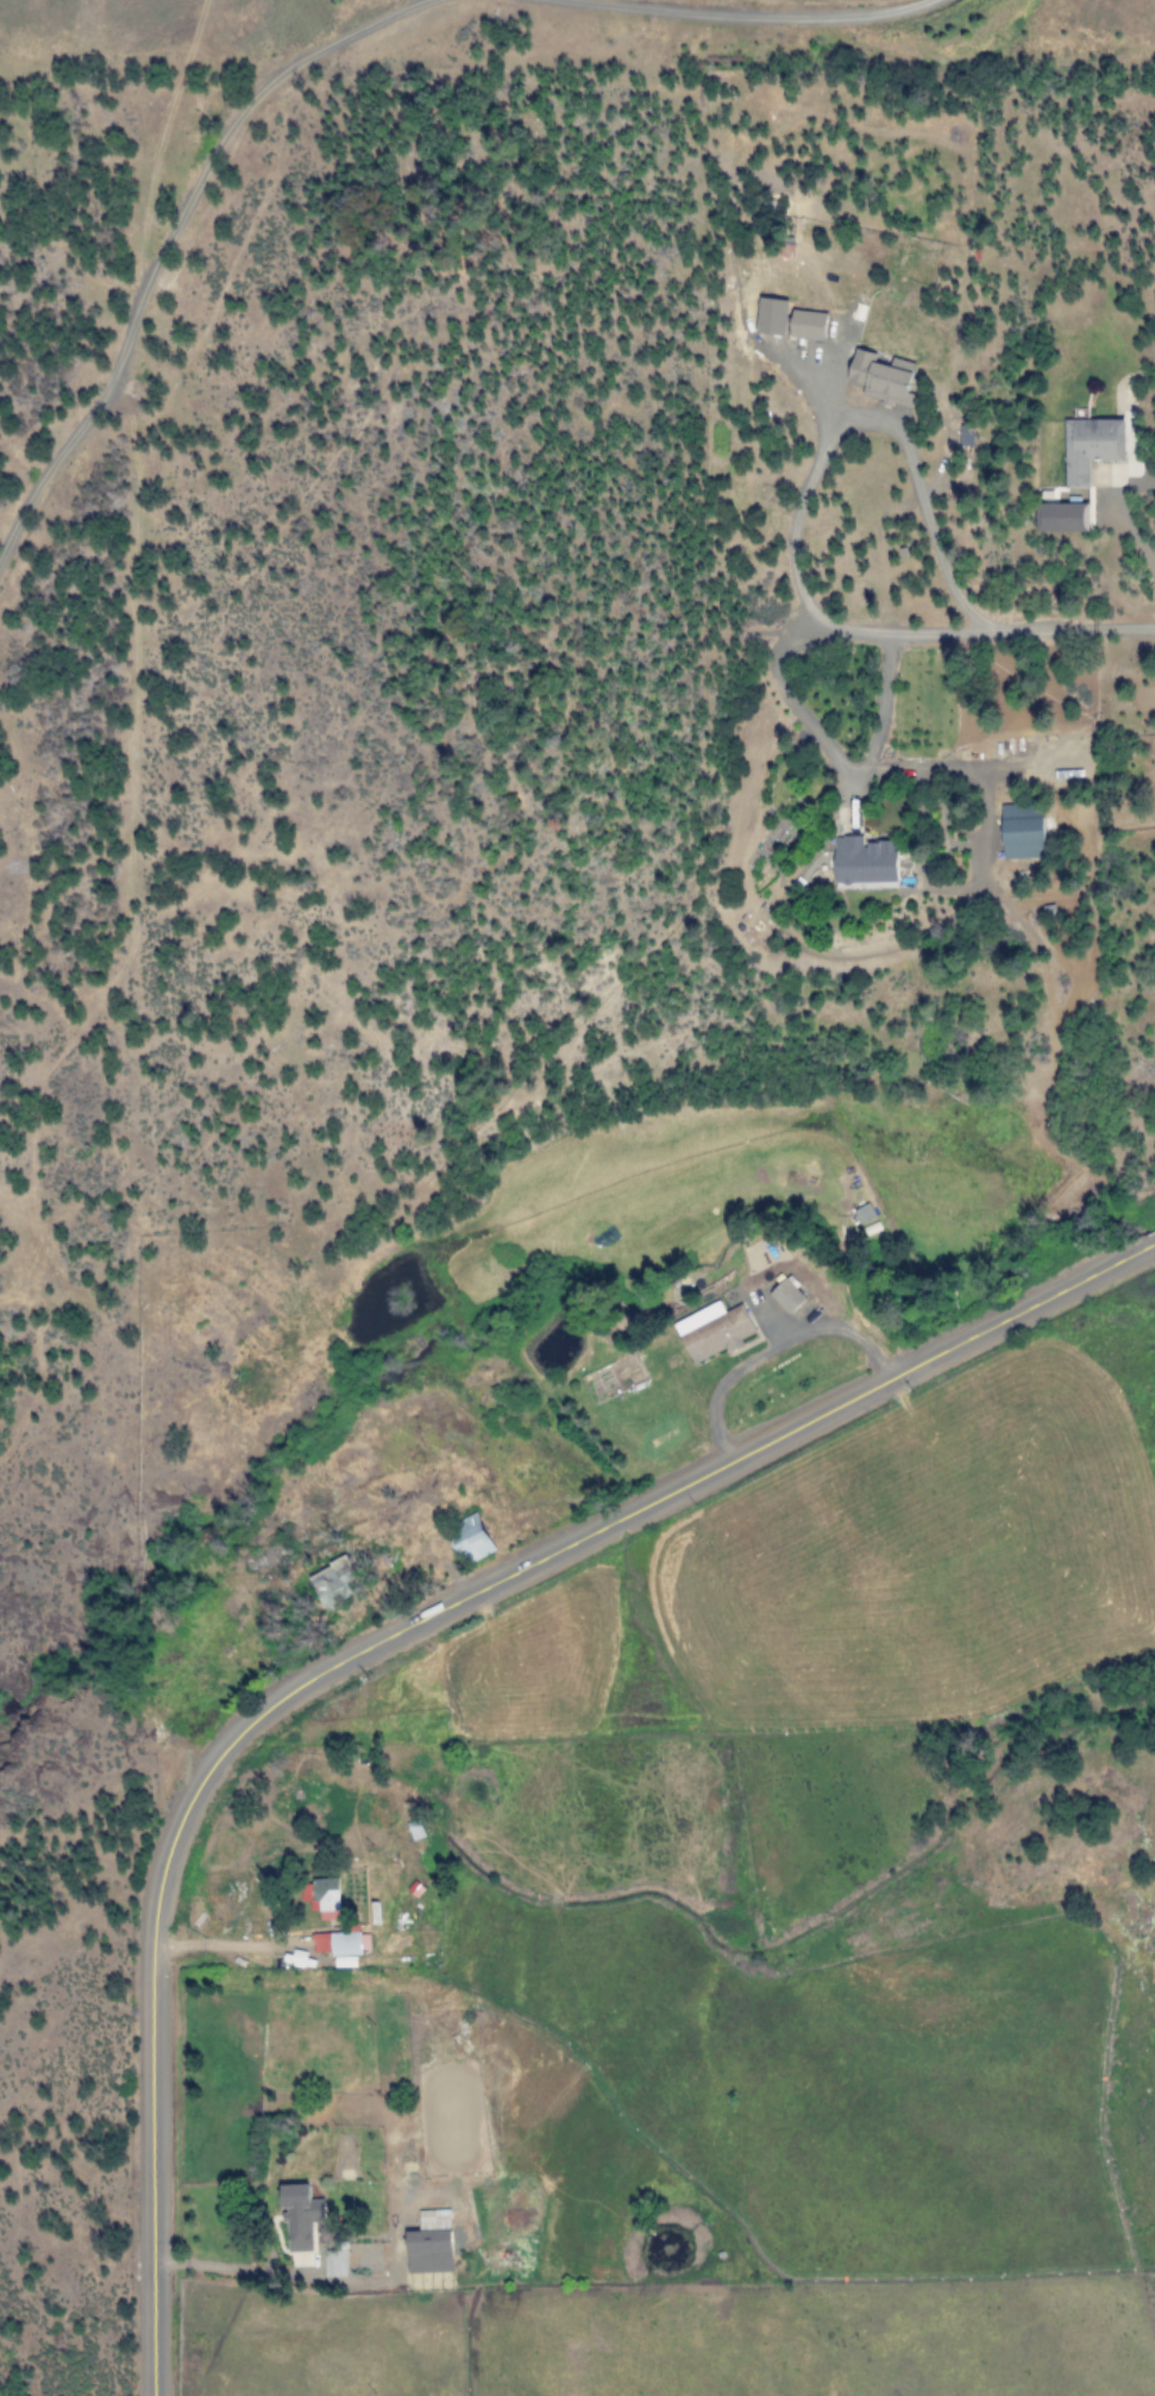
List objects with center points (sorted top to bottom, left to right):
road: (742, 15)
road: (171, 234)
building: (768, 317)
building: (804, 324)
building: (879, 377)
road: (835, 396)
road: (853, 428)
building: (1088, 448)
building: (1060, 518)
road: (1142, 633)
road: (1016, 634)
road: (848, 757)
road: (963, 772)
building: (1019, 832)
road: (1003, 836)
building: (862, 863)
road: (977, 888)
road: (855, 959)
road: (1074, 984)
building: (786, 1296)
building: (713, 1332)
road: (766, 1346)
building: (476, 1539)
building: (335, 1583)
road: (388, 1637)
building: (324, 1898)
building: (340, 1943)
building: (303, 2217)
building: (435, 2244)
building: (338, 2264)

